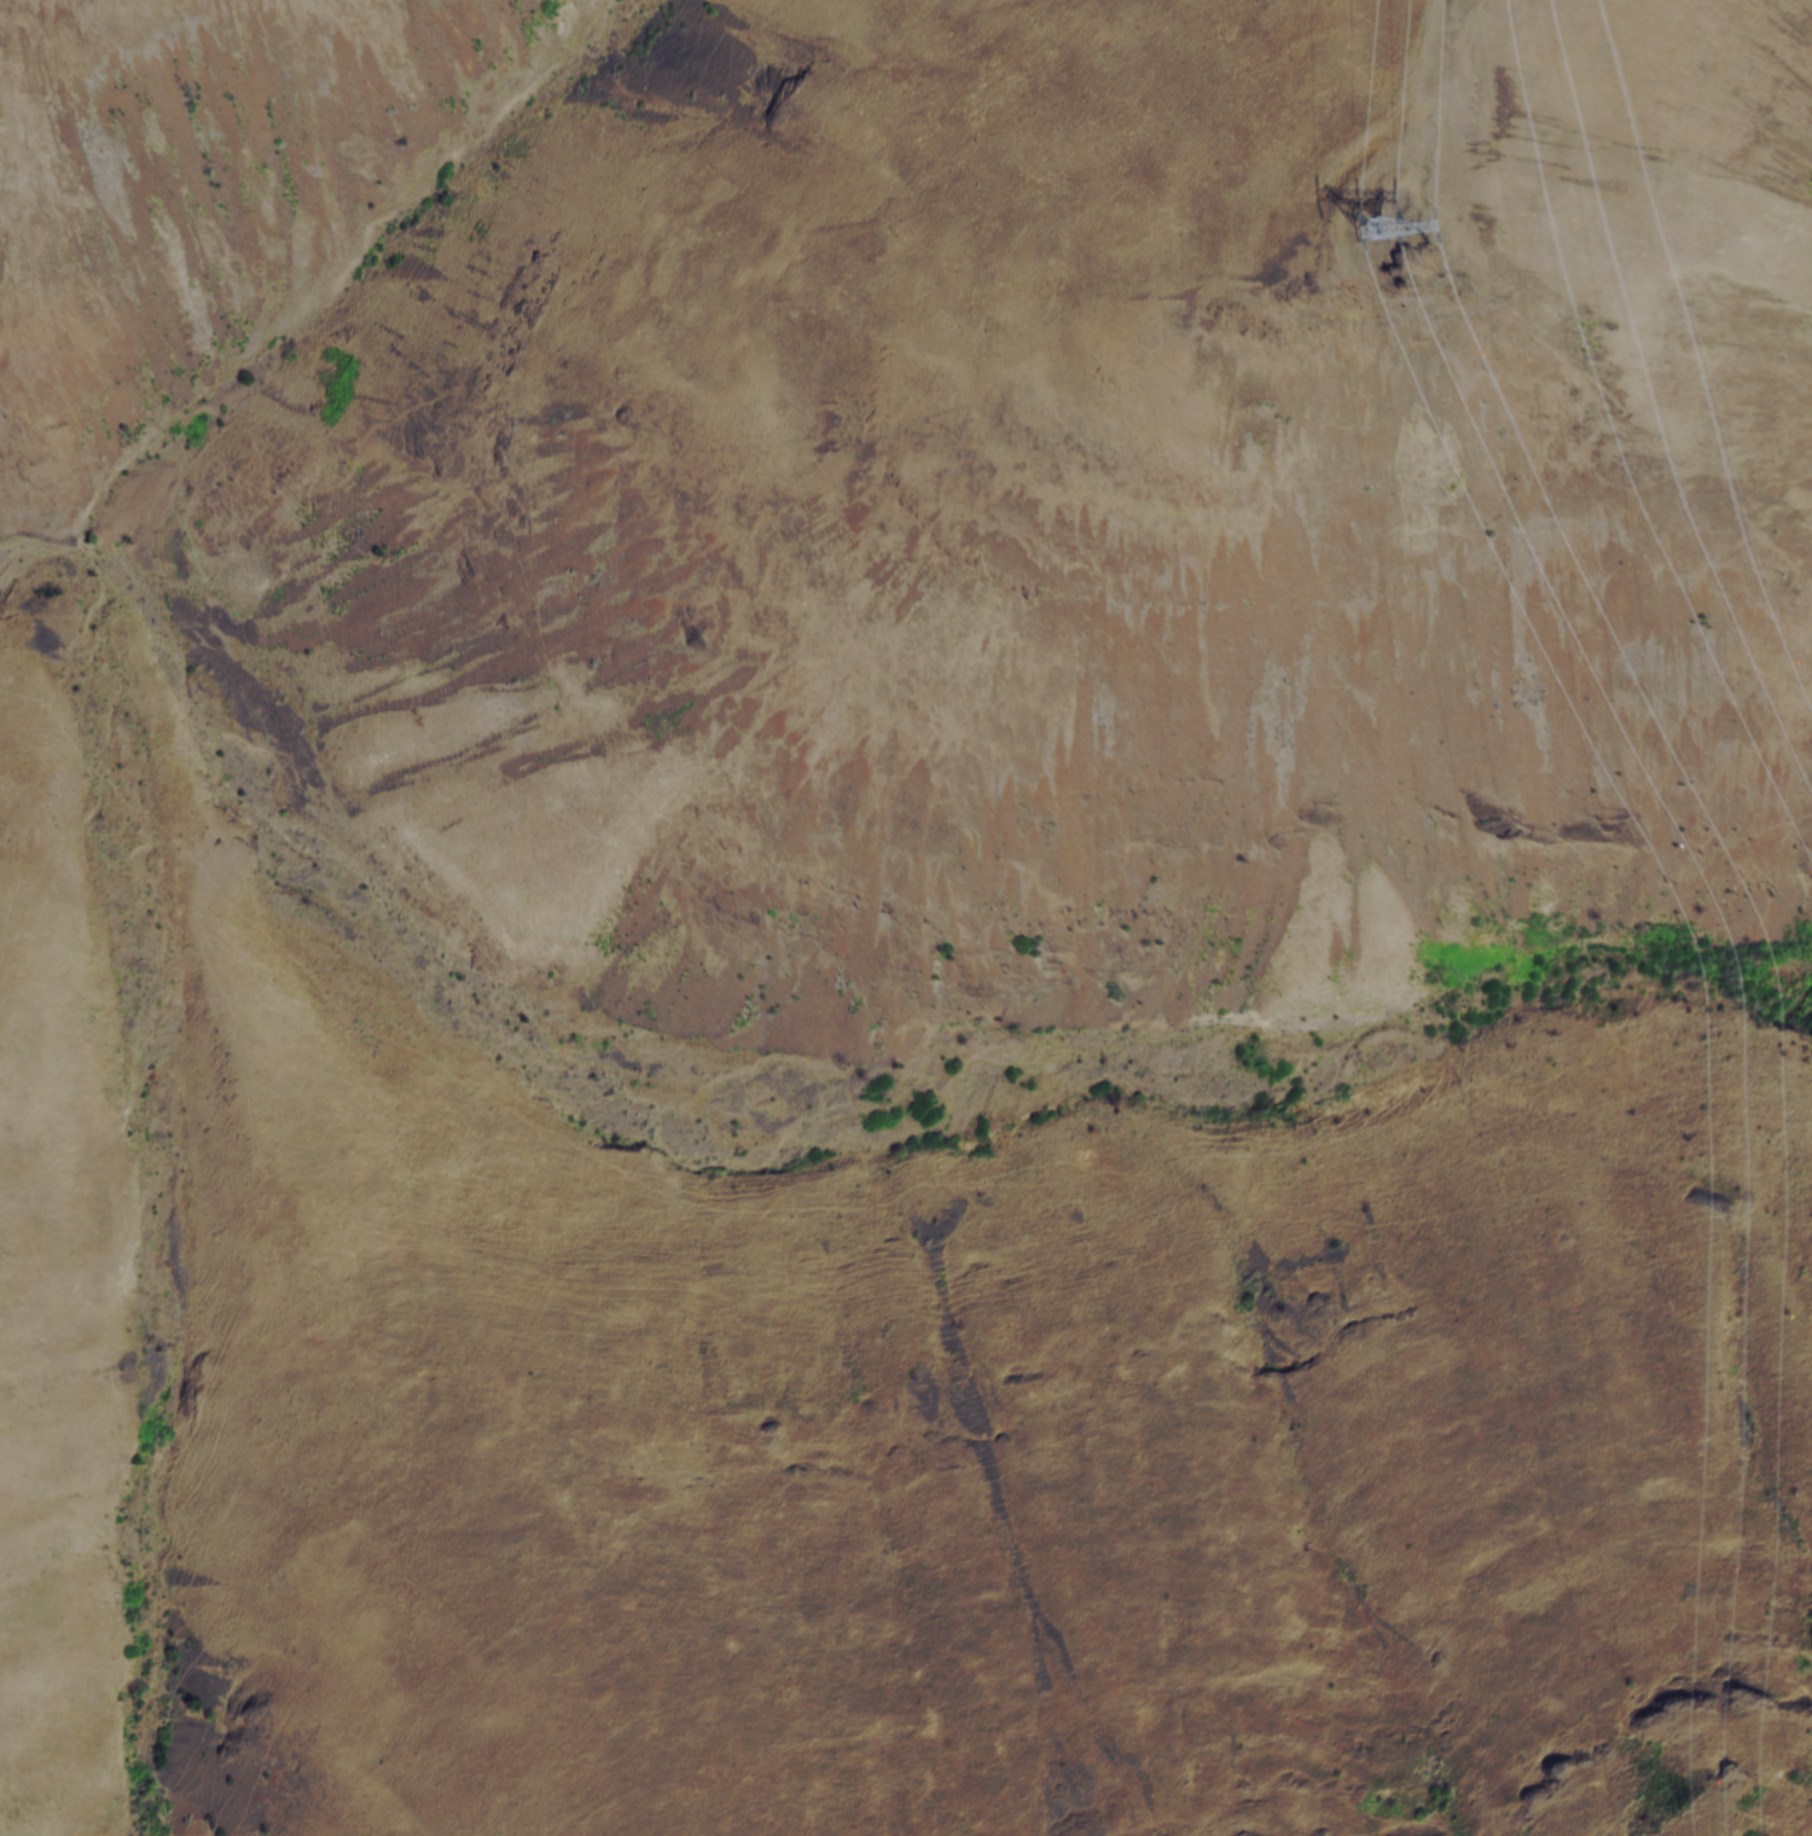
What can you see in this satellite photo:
power tower: (1375, 216)

